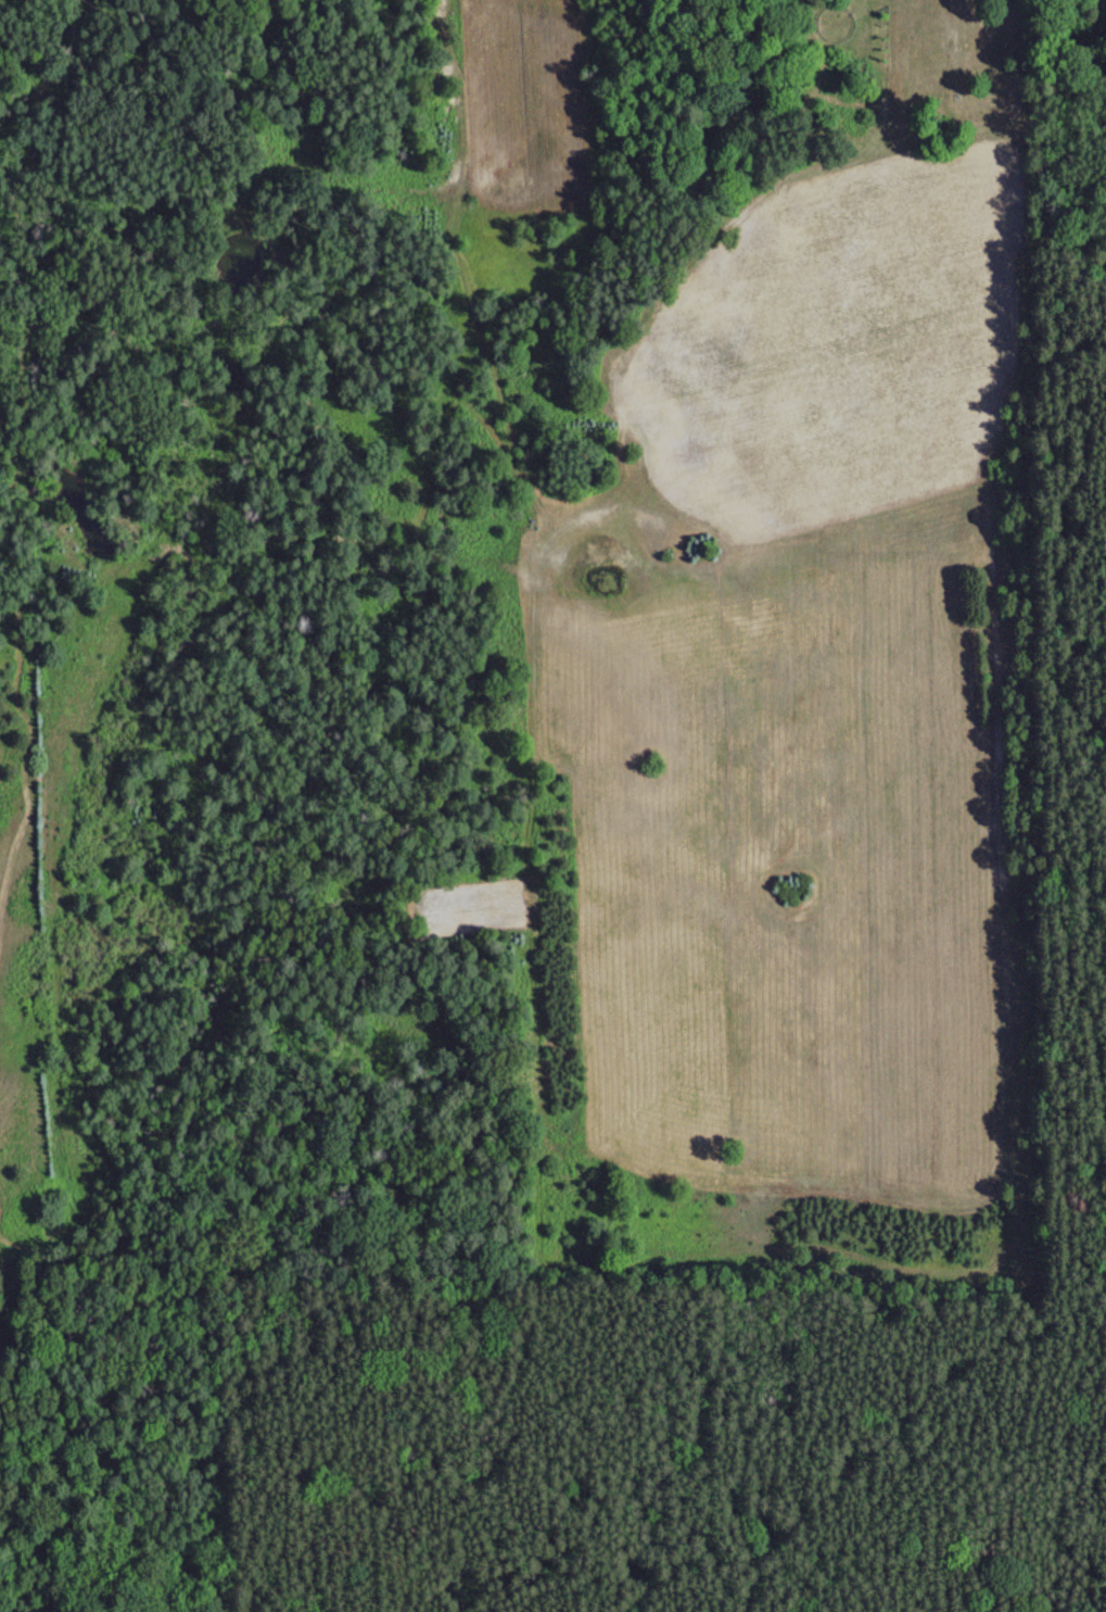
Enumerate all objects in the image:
road: (1063, 563)
road: (1097, 878)
road: (912, 1411)

